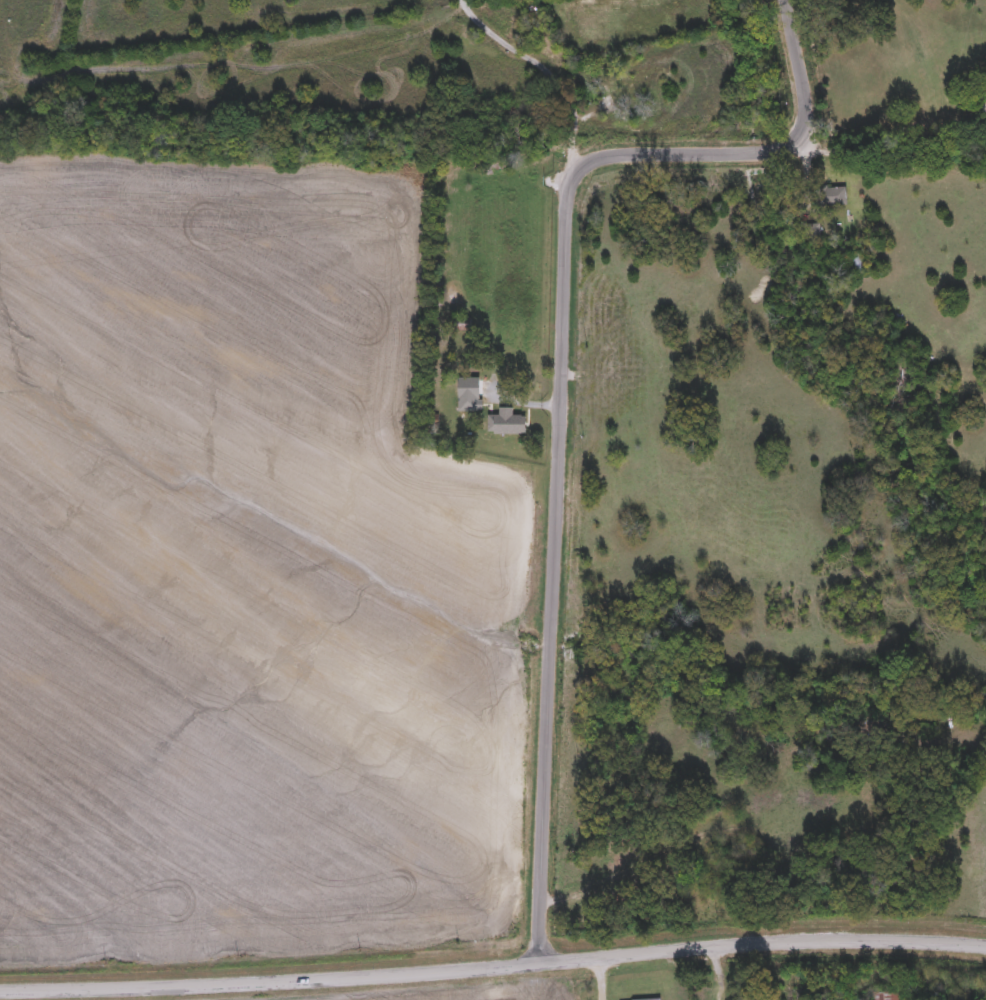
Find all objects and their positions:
road: (549, 69)
building: (985, 104)
building: (834, 197)
road: (562, 381)
building: (466, 393)
building: (510, 425)
road: (493, 969)
road: (757, 973)
road: (717, 974)
building: (792, 987)
building: (885, 996)

